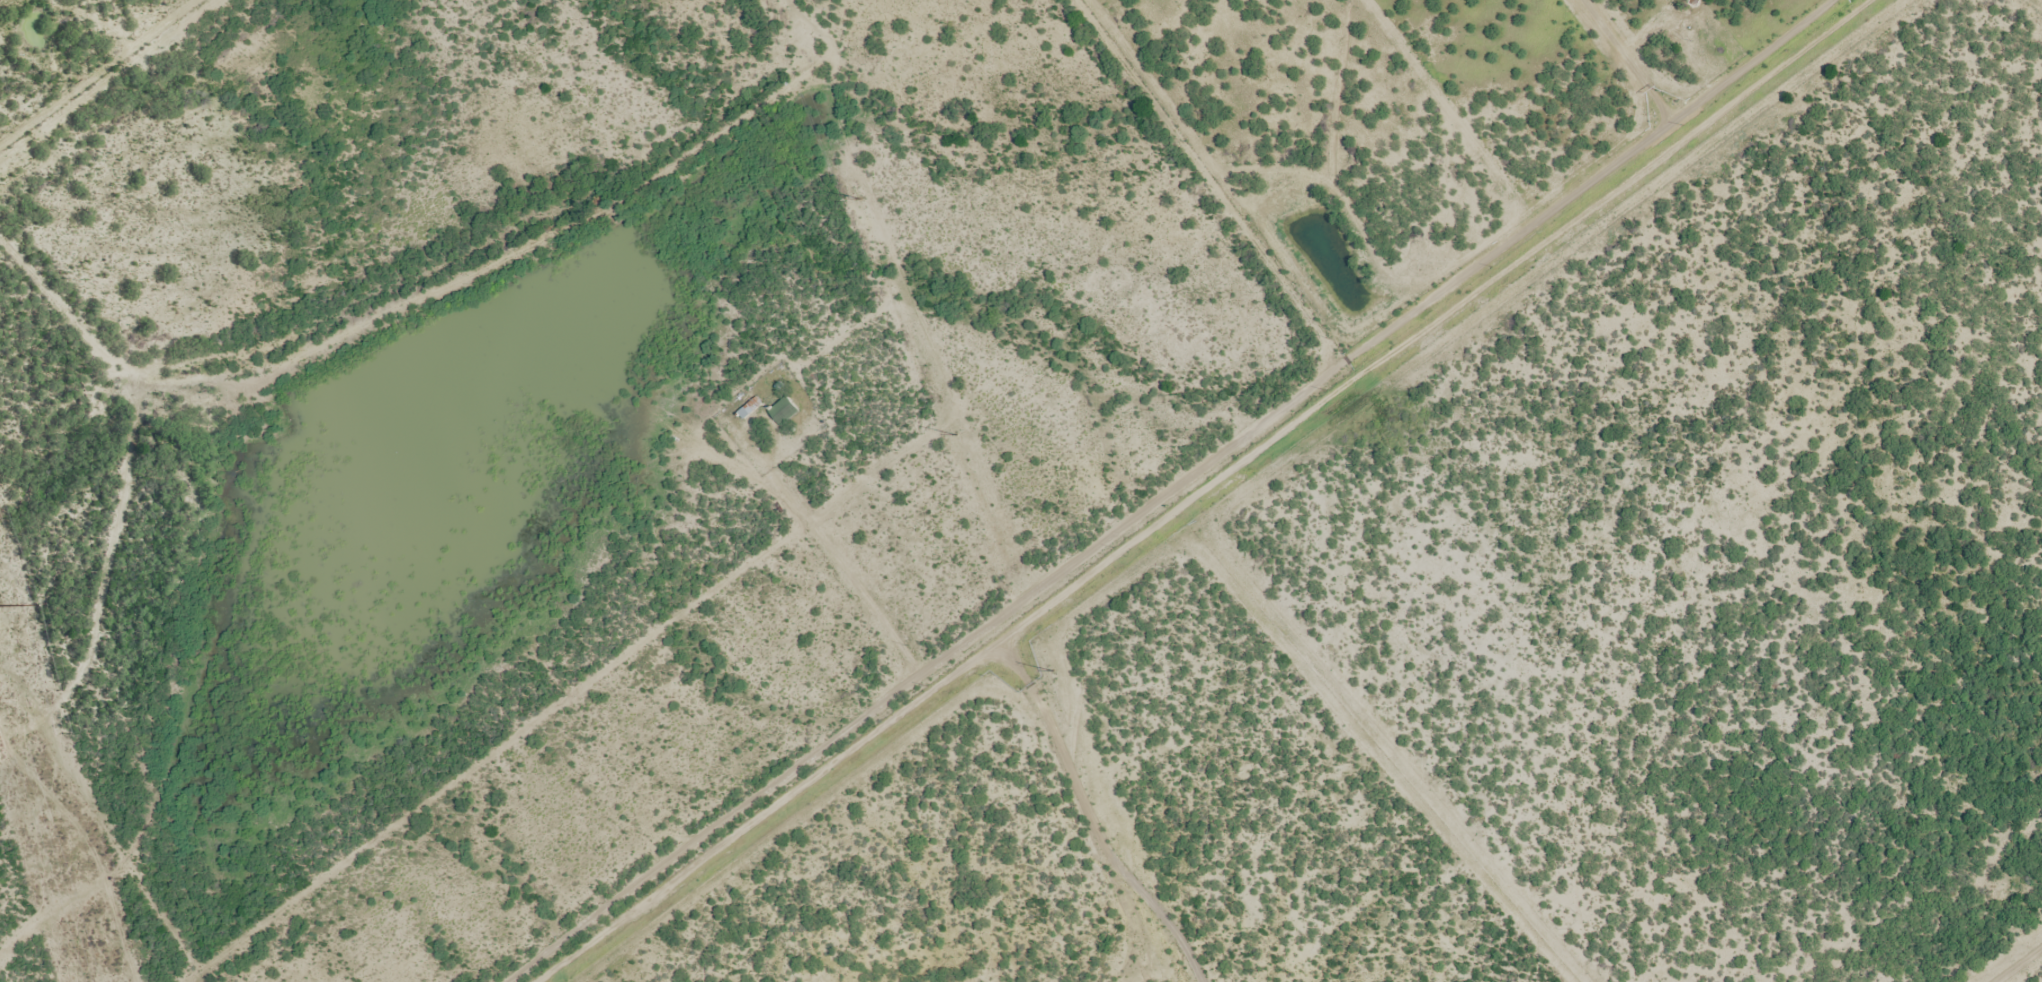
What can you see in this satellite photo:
power tower: (859, 200)
building: (749, 409)
power tower: (956, 436)
road: (1190, 483)
road: (832, 565)
power tower: (1053, 672)

